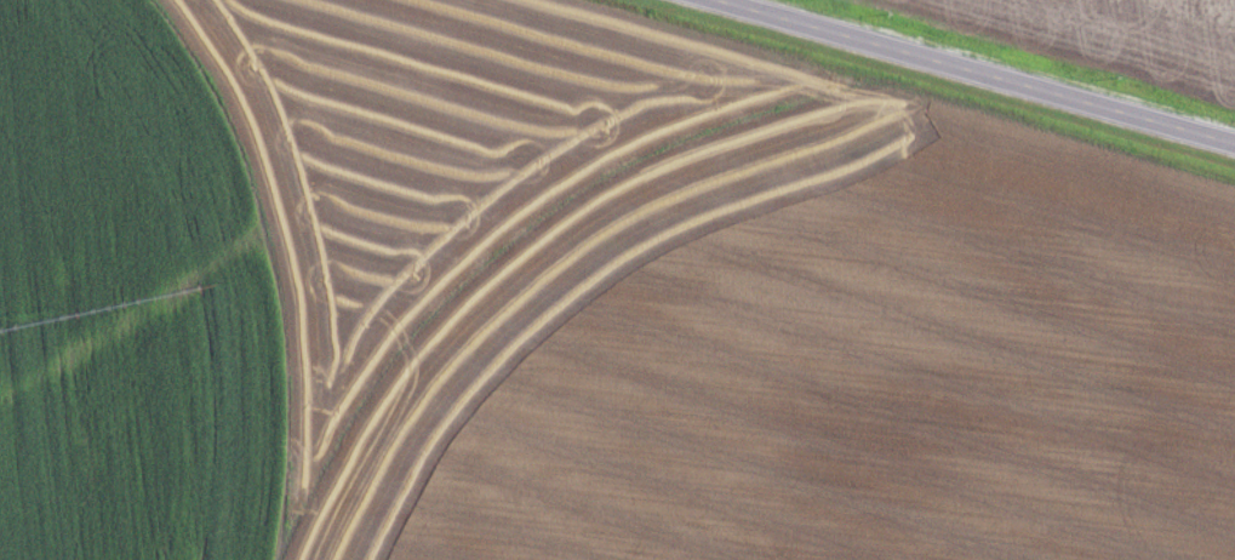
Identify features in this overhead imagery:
road: (978, 70)

